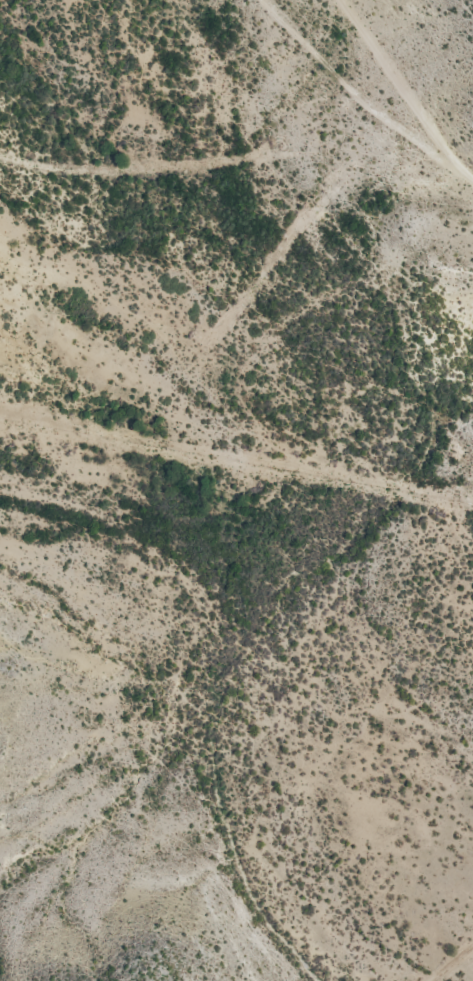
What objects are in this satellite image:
road: (369, 92)

